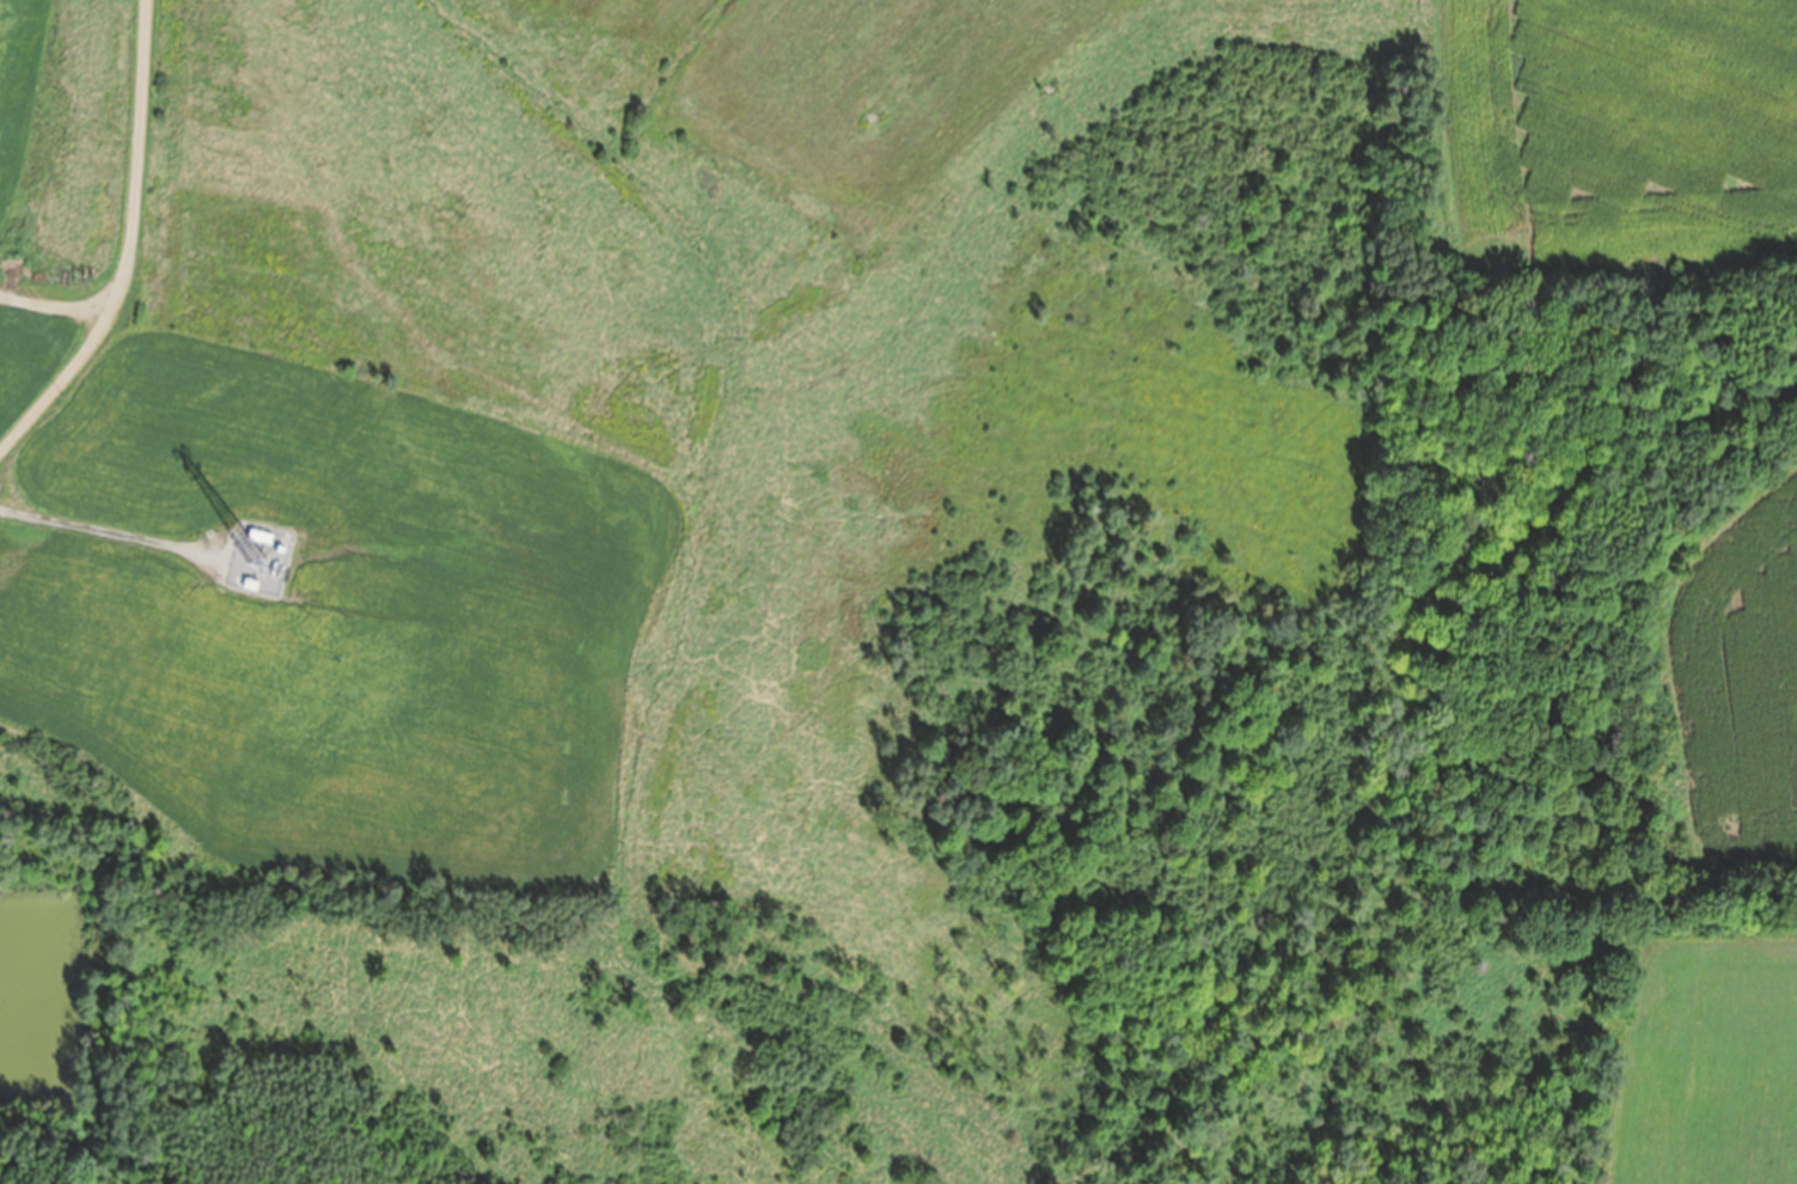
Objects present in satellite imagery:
road: (145, 146)

